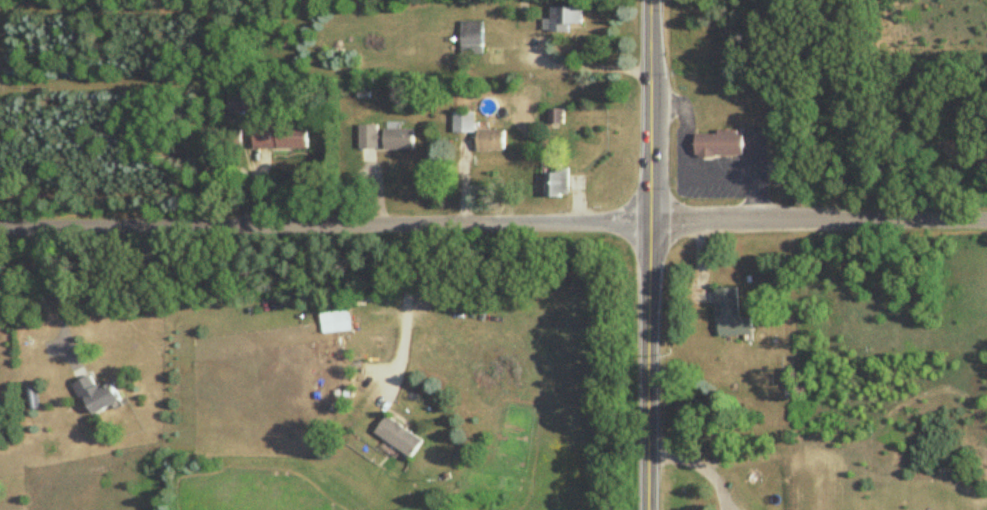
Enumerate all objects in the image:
building: (562, 19)
building: (471, 38)
building: (495, 57)
road: (593, 66)
building: (240, 103)
building: (463, 123)
building: (368, 137)
building: (280, 138)
building: (399, 140)
building: (490, 141)
building: (719, 144)
building: (556, 183)
road: (818, 219)
road: (325, 224)
road: (649, 254)
road: (58, 296)
road: (403, 310)
building: (730, 315)
building: (336, 316)
building: (97, 396)
building: (400, 437)
road: (699, 464)

